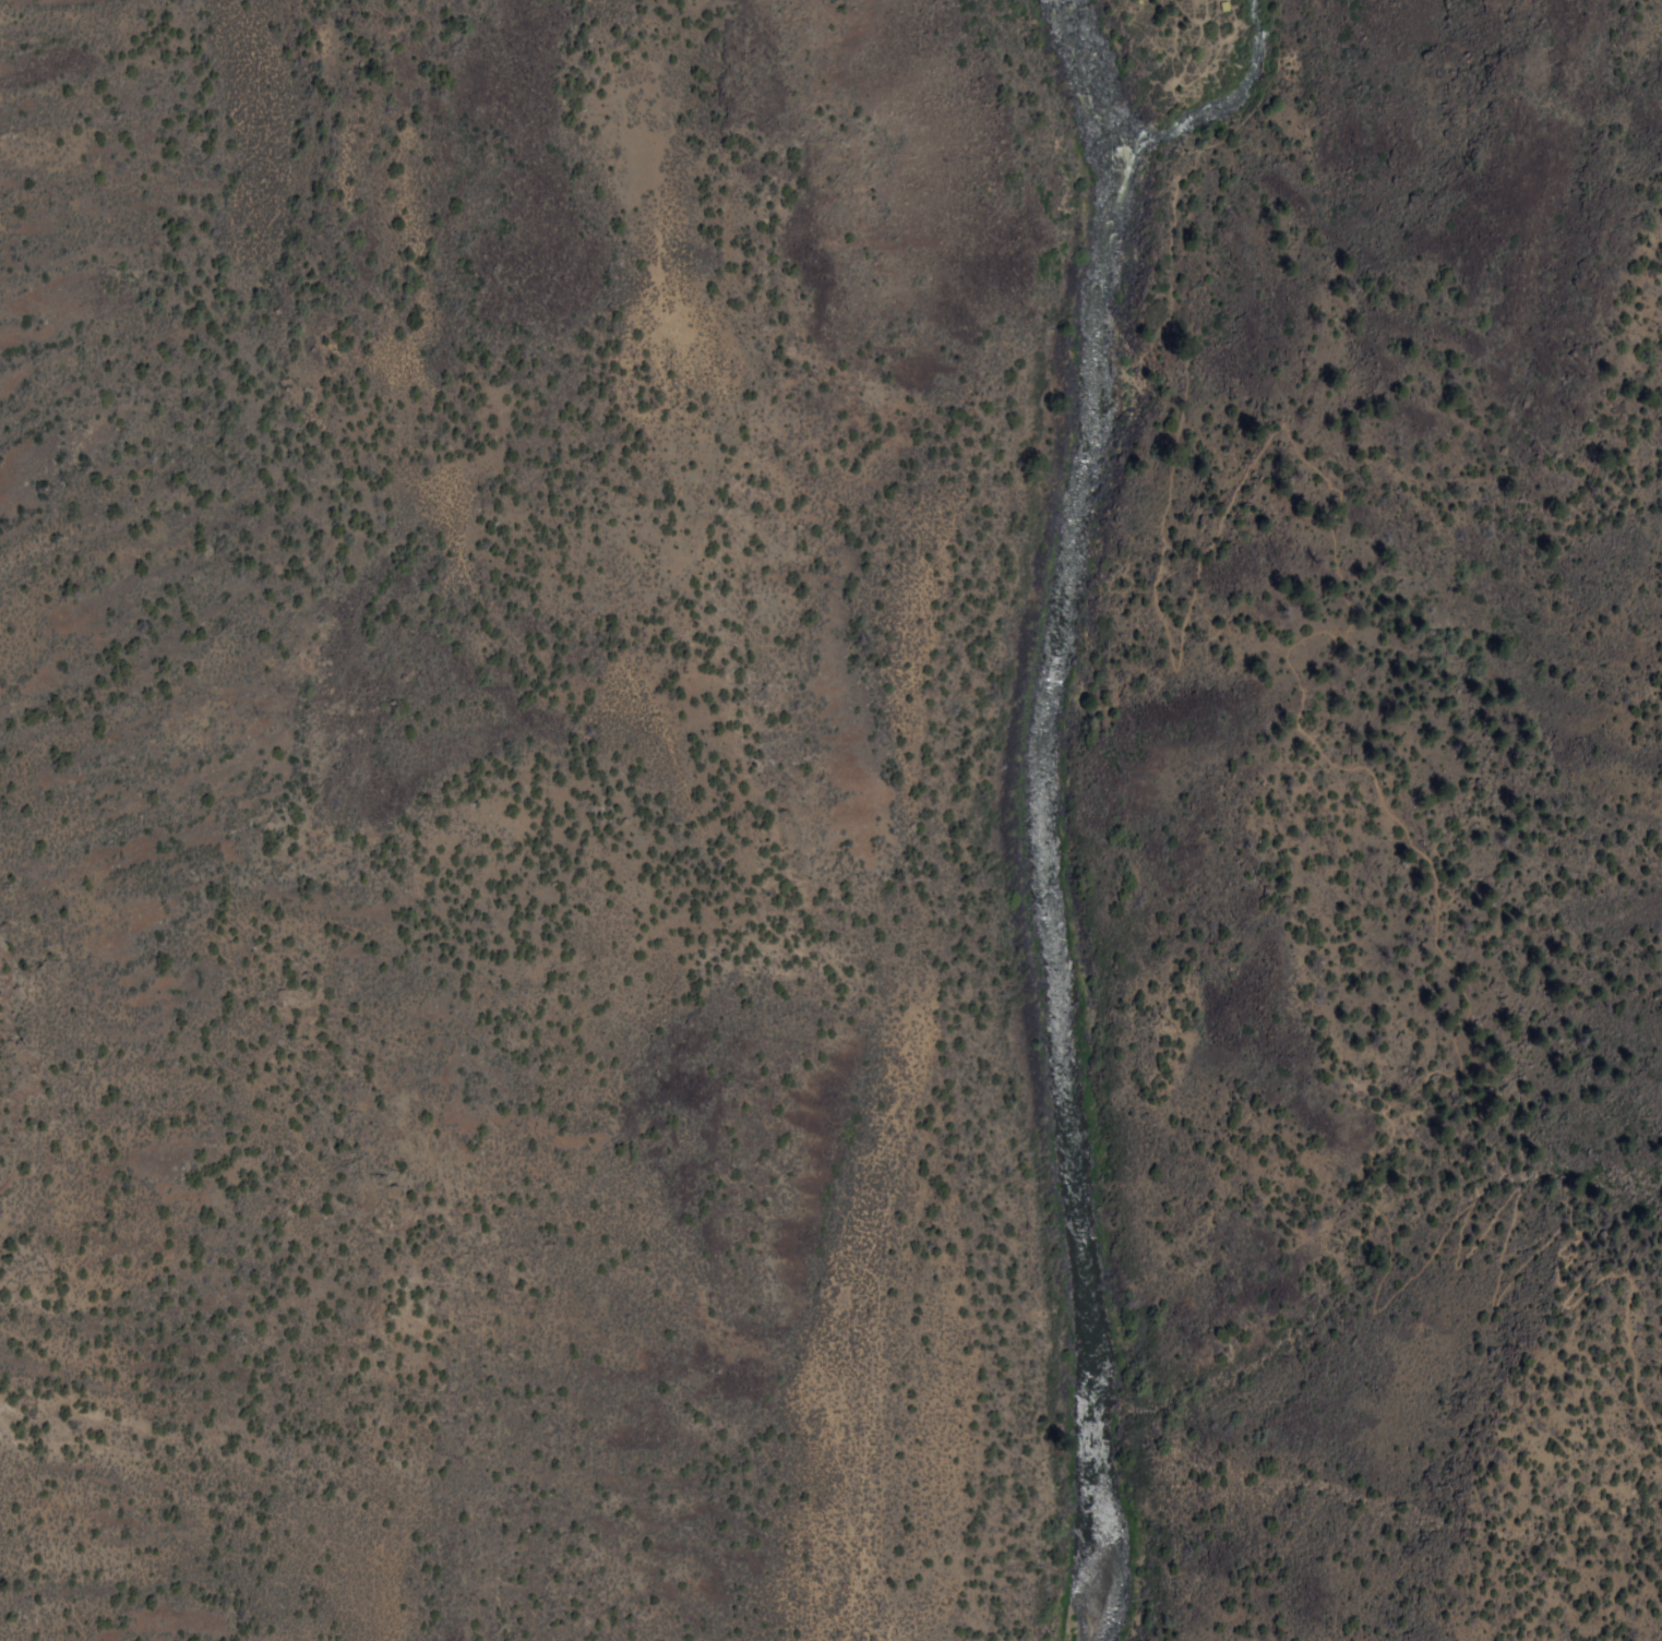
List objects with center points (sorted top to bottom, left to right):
building: (1138, 4)
building: (1220, 9)
road: (1169, 75)
river: (1045, 817)
road: (1426, 875)

